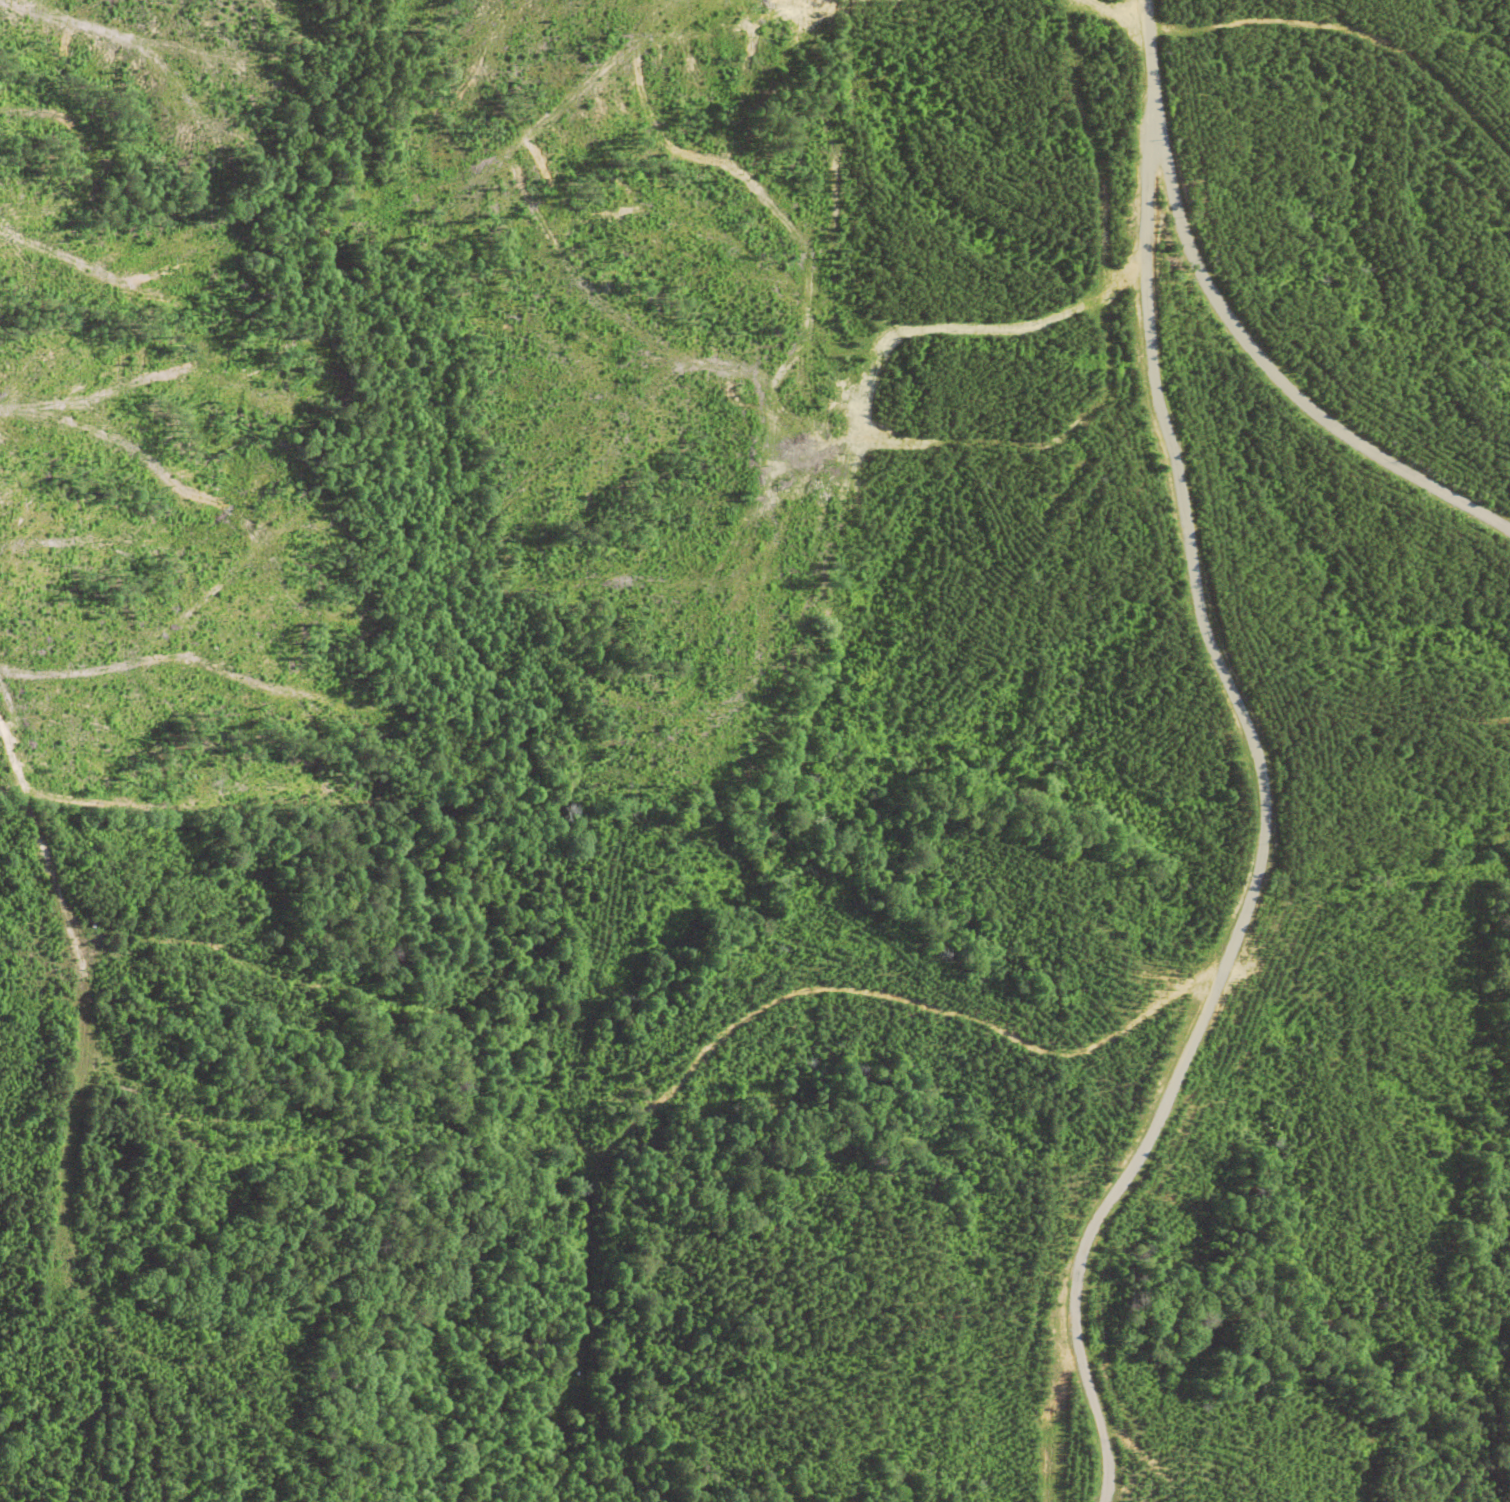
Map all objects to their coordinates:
road: (1141, 128)
road: (1317, 429)
road: (1241, 894)

